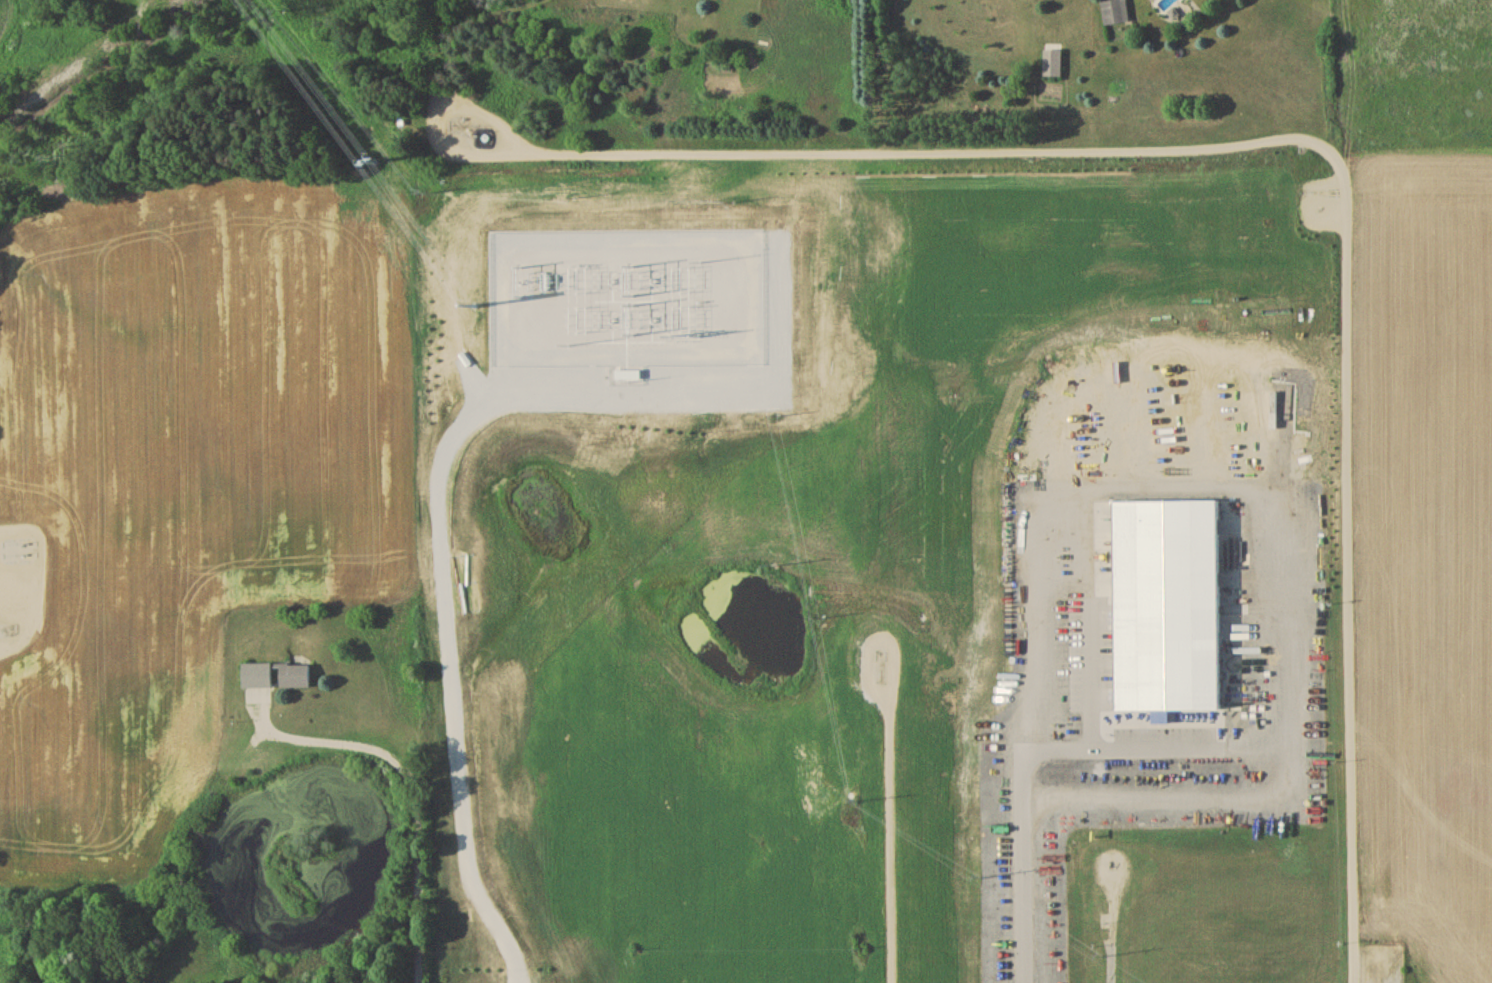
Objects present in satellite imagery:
building: (1116, 14)
building: (1054, 65)
road: (1306, 143)
power tower: (373, 163)
power substation: (627, 302)
power tower: (474, 305)
building: (626, 377)
road: (474, 393)
road: (442, 471)
building: (258, 678)
building: (295, 678)
road: (1023, 774)
road: (410, 791)
road: (890, 833)

